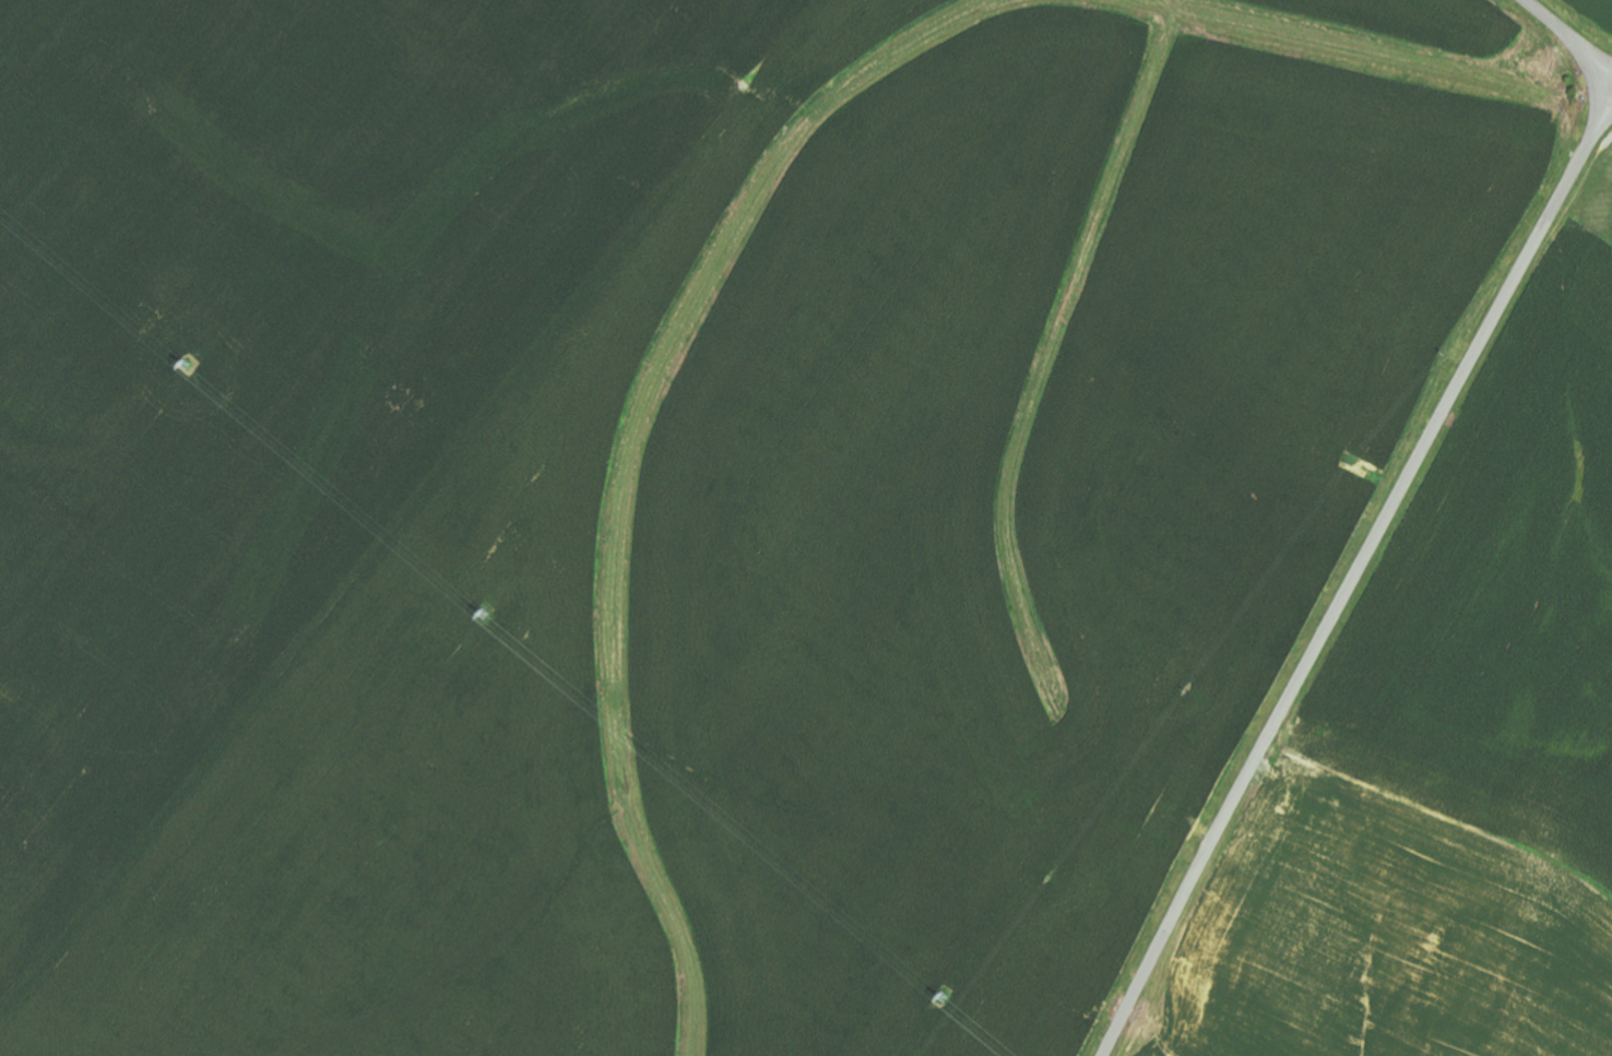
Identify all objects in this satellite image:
road: (1579, 43)
road: (1579, 52)
road: (1350, 582)

